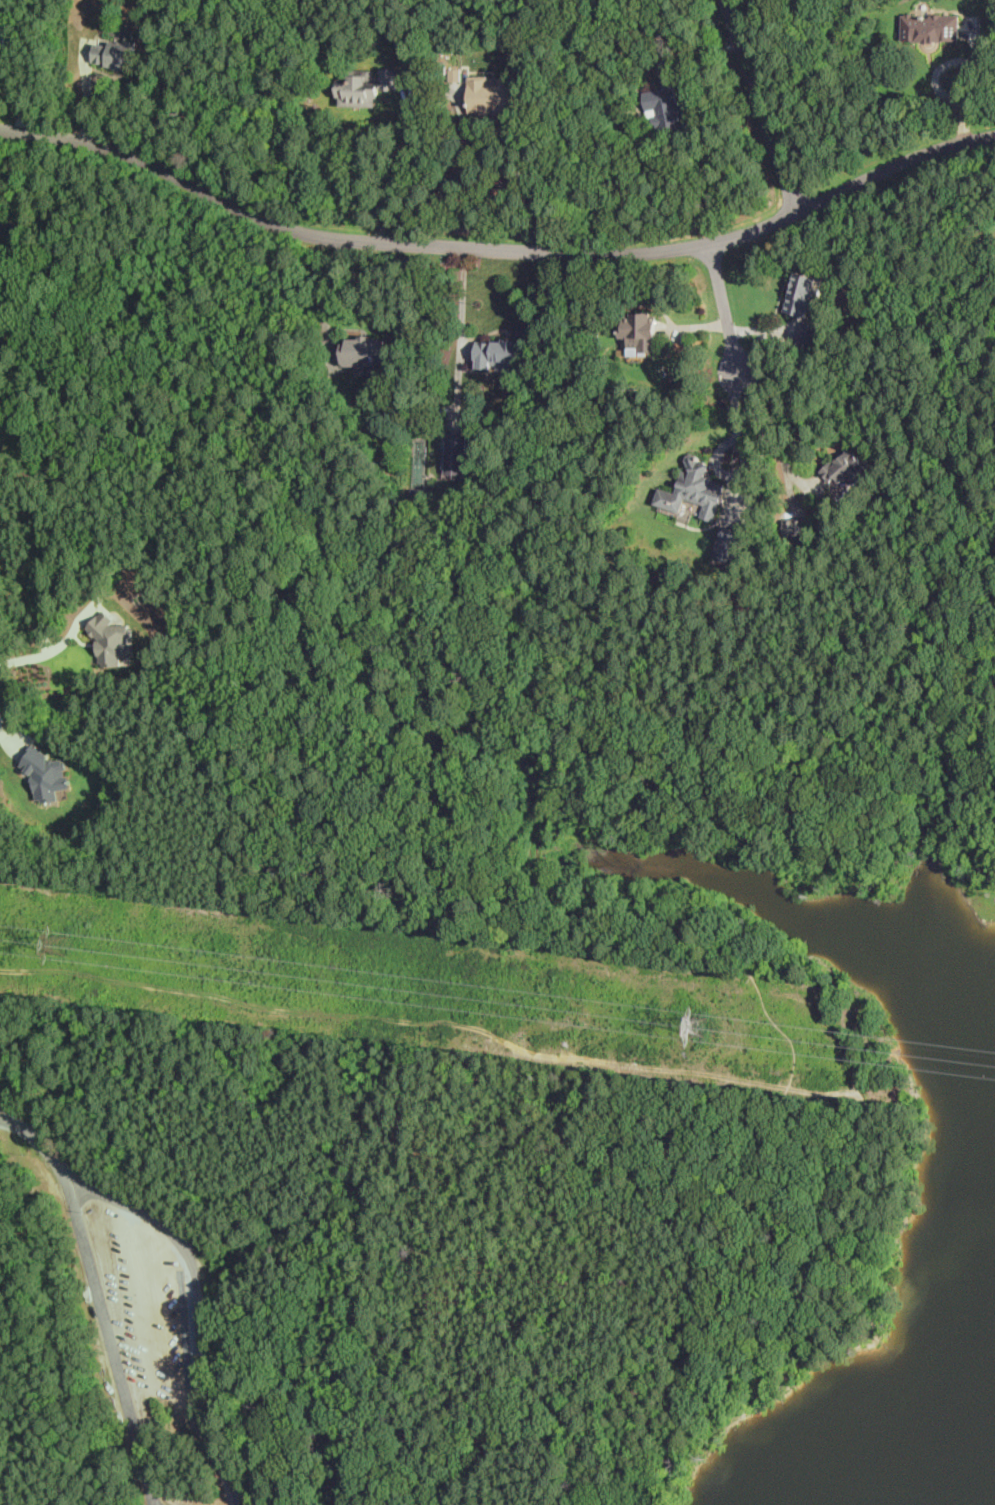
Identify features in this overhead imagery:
building: (6, 25)
building: (930, 27)
building: (115, 54)
building: (366, 87)
road: (939, 88)
building: (491, 95)
building: (667, 112)
road: (769, 125)
road: (522, 175)
road: (399, 180)
road: (496, 256)
road: (722, 301)
building: (640, 332)
building: (811, 335)
road: (461, 336)
building: (364, 352)
building: (499, 355)
road: (741, 437)
road: (771, 439)
building: (848, 467)
building: (694, 490)
building: (796, 527)
building: (729, 544)
building: (112, 639)
road: (39, 655)
road: (8, 735)
building: (47, 774)
power tower: (65, 962)
road: (758, 993)
power tower: (703, 1023)
road: (39, 1137)
road: (94, 1186)
road: (93, 1193)
parking lot: (150, 1311)

